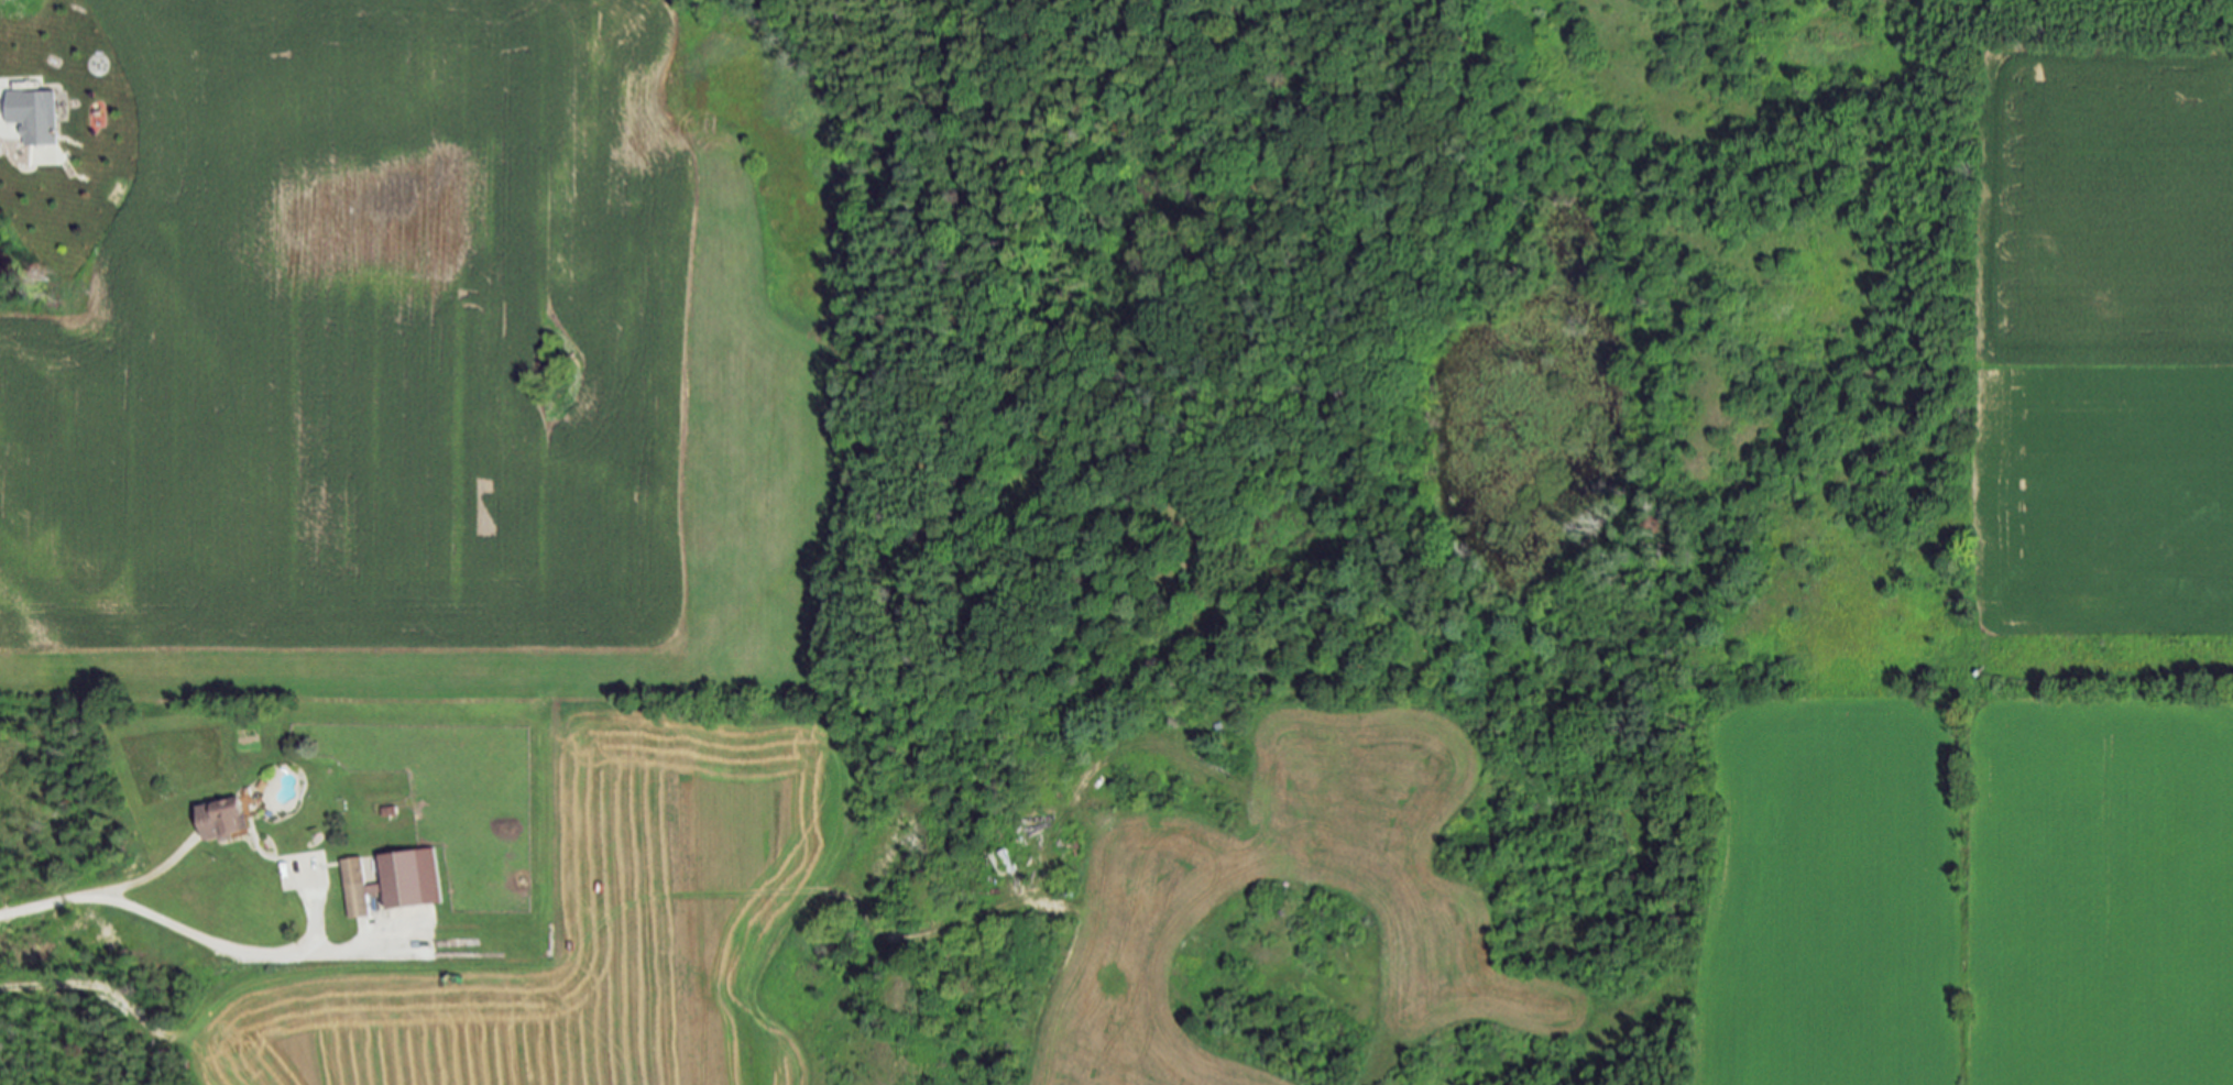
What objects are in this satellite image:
building: (36, 117)
building: (222, 819)
road: (153, 864)
building: (393, 880)
road: (197, 925)

